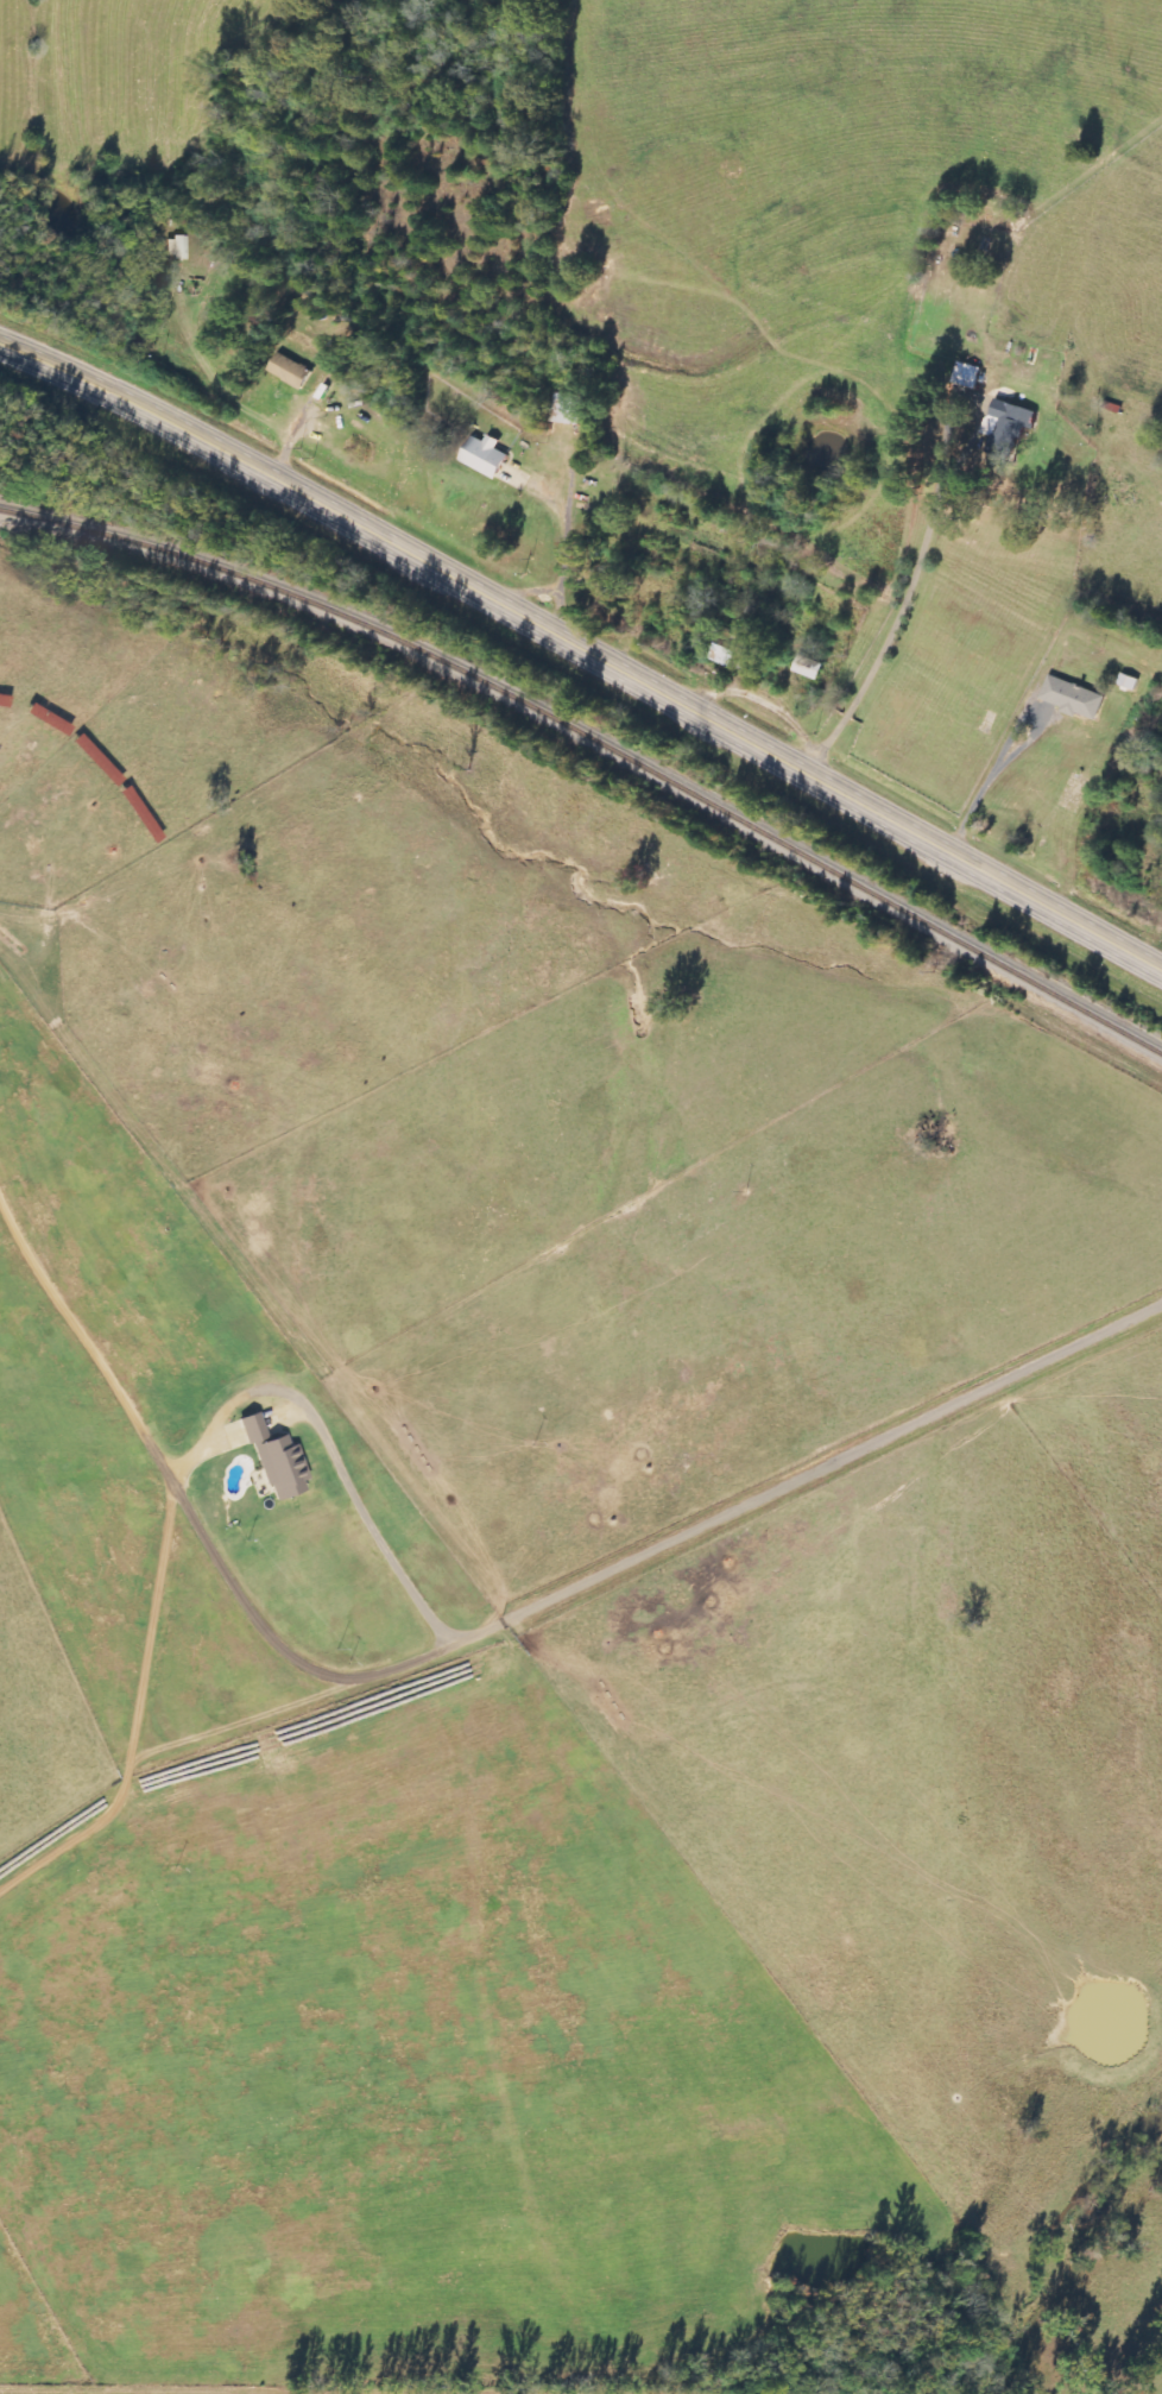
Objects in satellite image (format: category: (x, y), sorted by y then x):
building: (177, 247)
building: (290, 371)
building: (967, 376)
building: (568, 409)
building: (1006, 426)
building: (484, 455)
road: (564, 542)
road: (895, 629)
road: (583, 650)
building: (724, 655)
building: (809, 668)
building: (1072, 698)
building: (48, 719)
railway: (596, 739)
building: (252, 1428)
building: (282, 1467)
road: (468, 1649)

